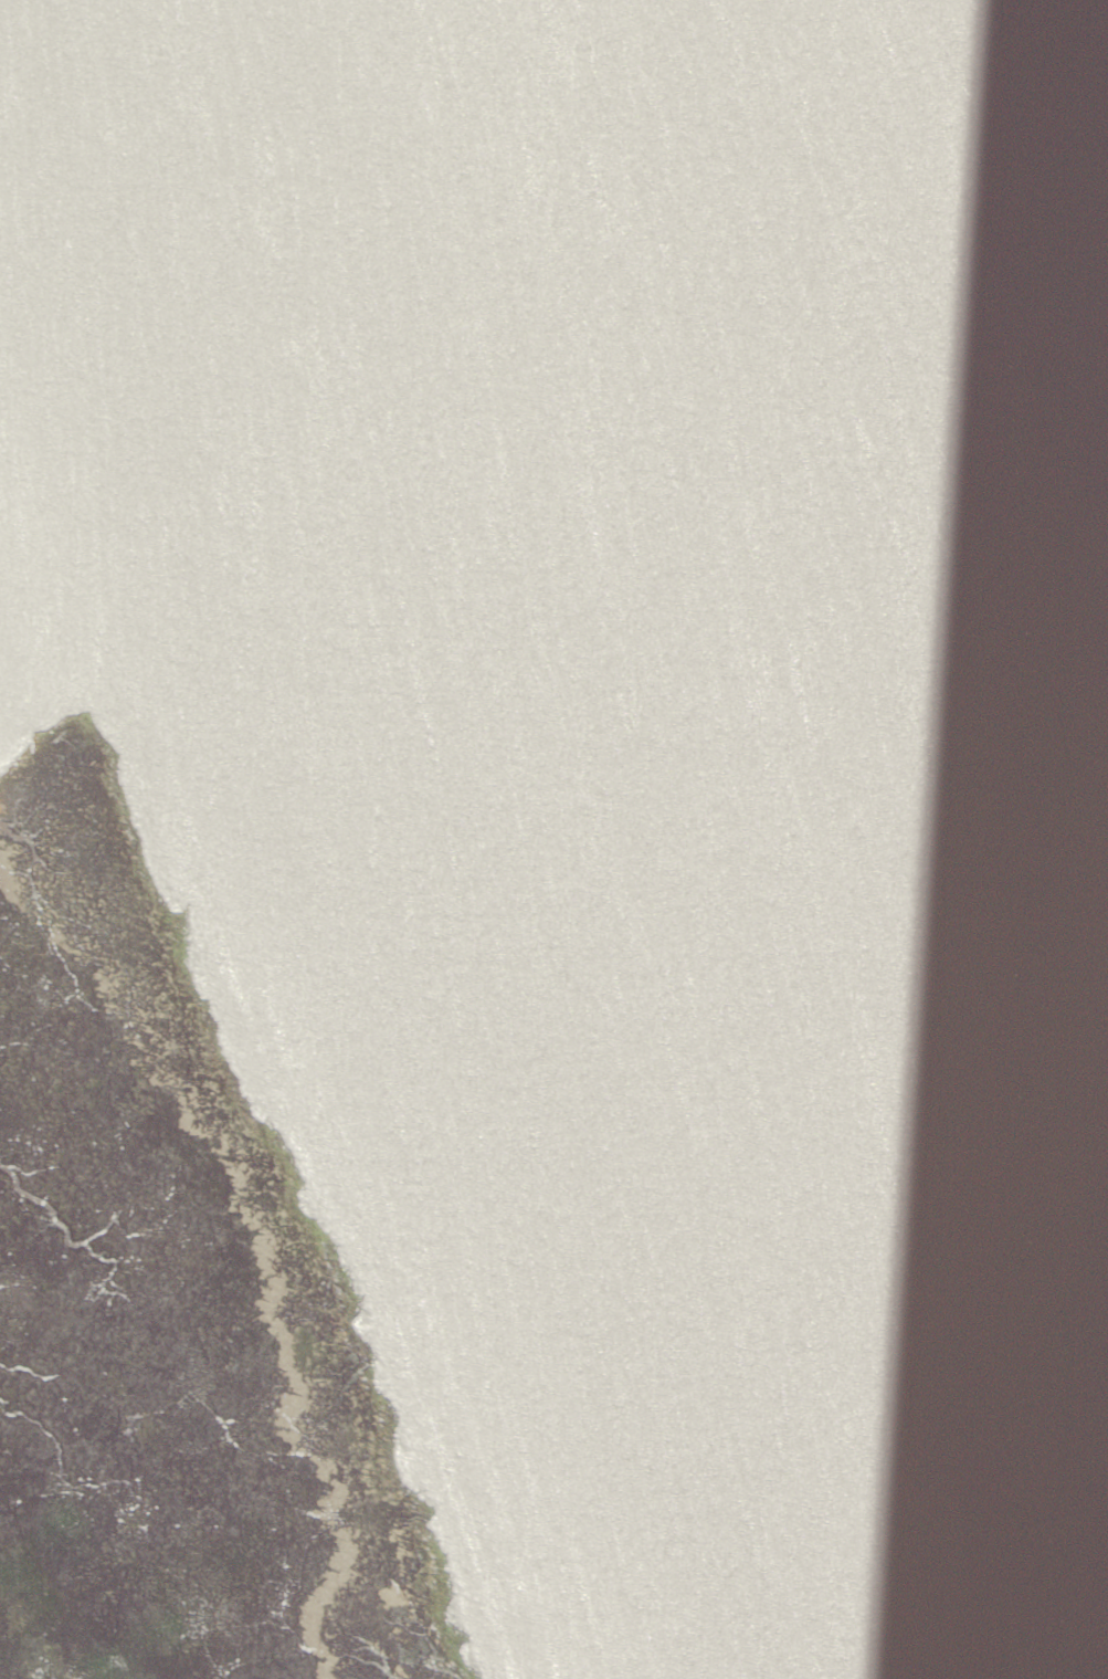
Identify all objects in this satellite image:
river: (719, 837)

